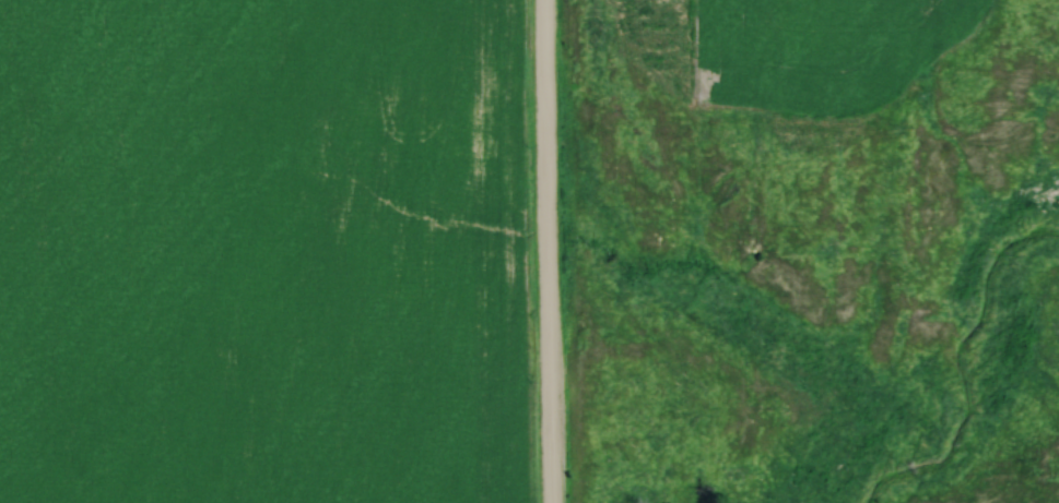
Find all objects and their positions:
road: (544, 251)

